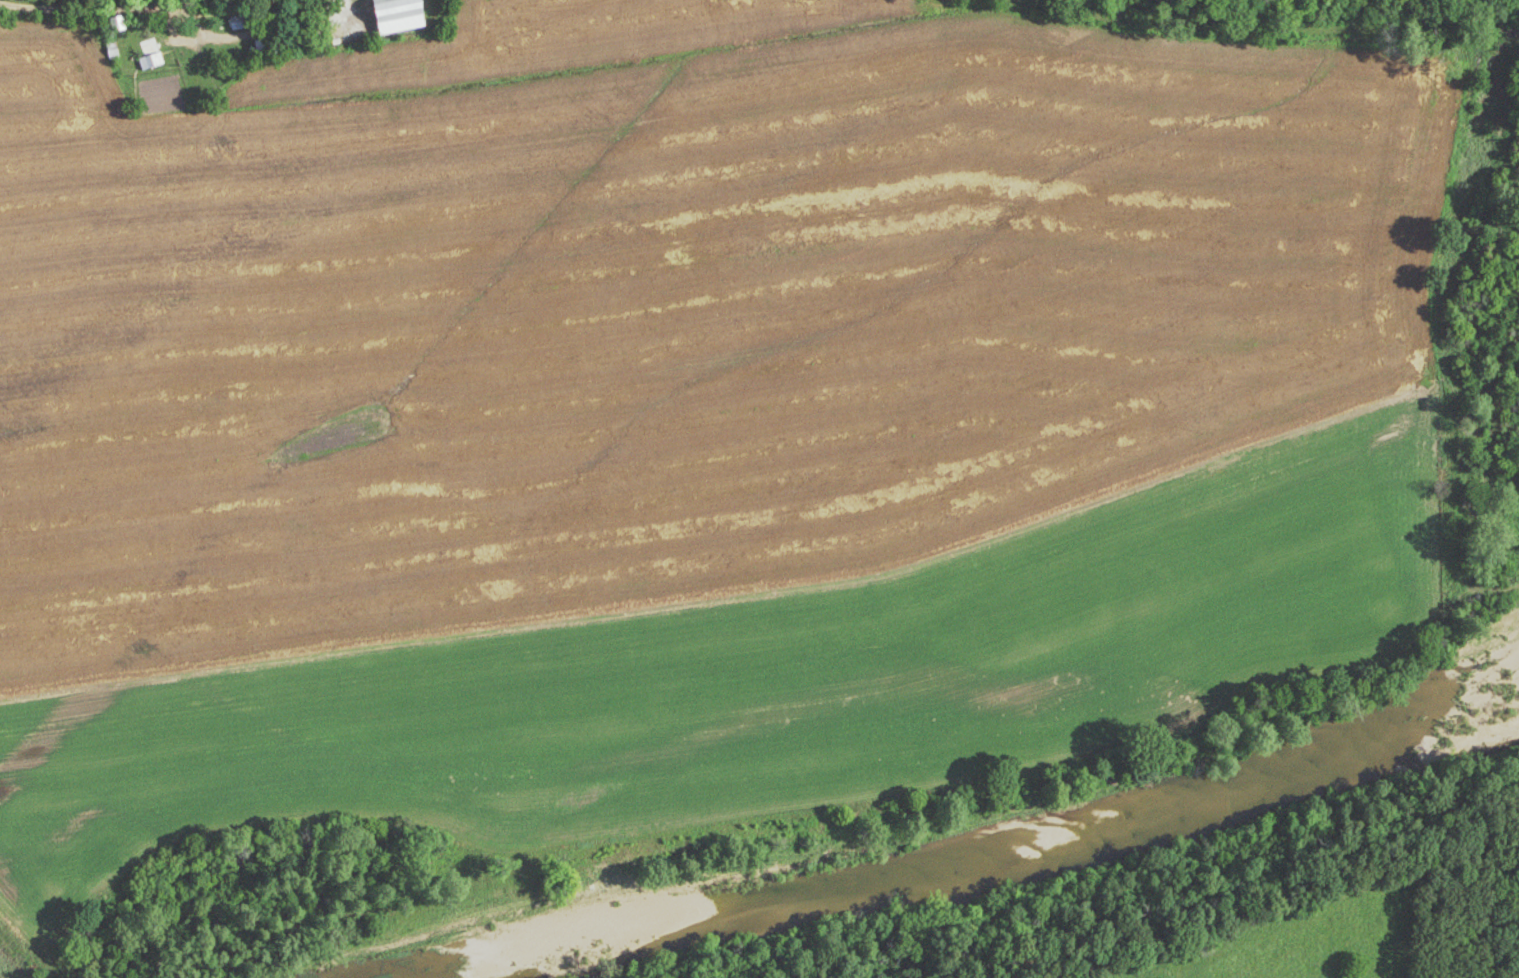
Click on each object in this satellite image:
road: (86, 10)
building: (405, 15)
building: (121, 23)
building: (245, 23)
building: (268, 47)
building: (157, 52)
river: (980, 856)

